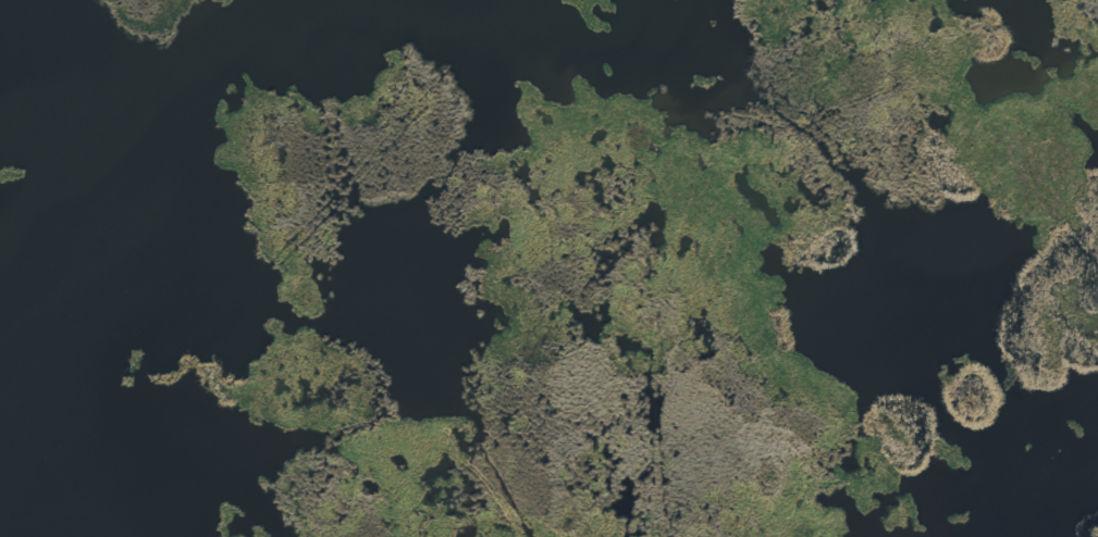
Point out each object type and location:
park: (884, 267)

